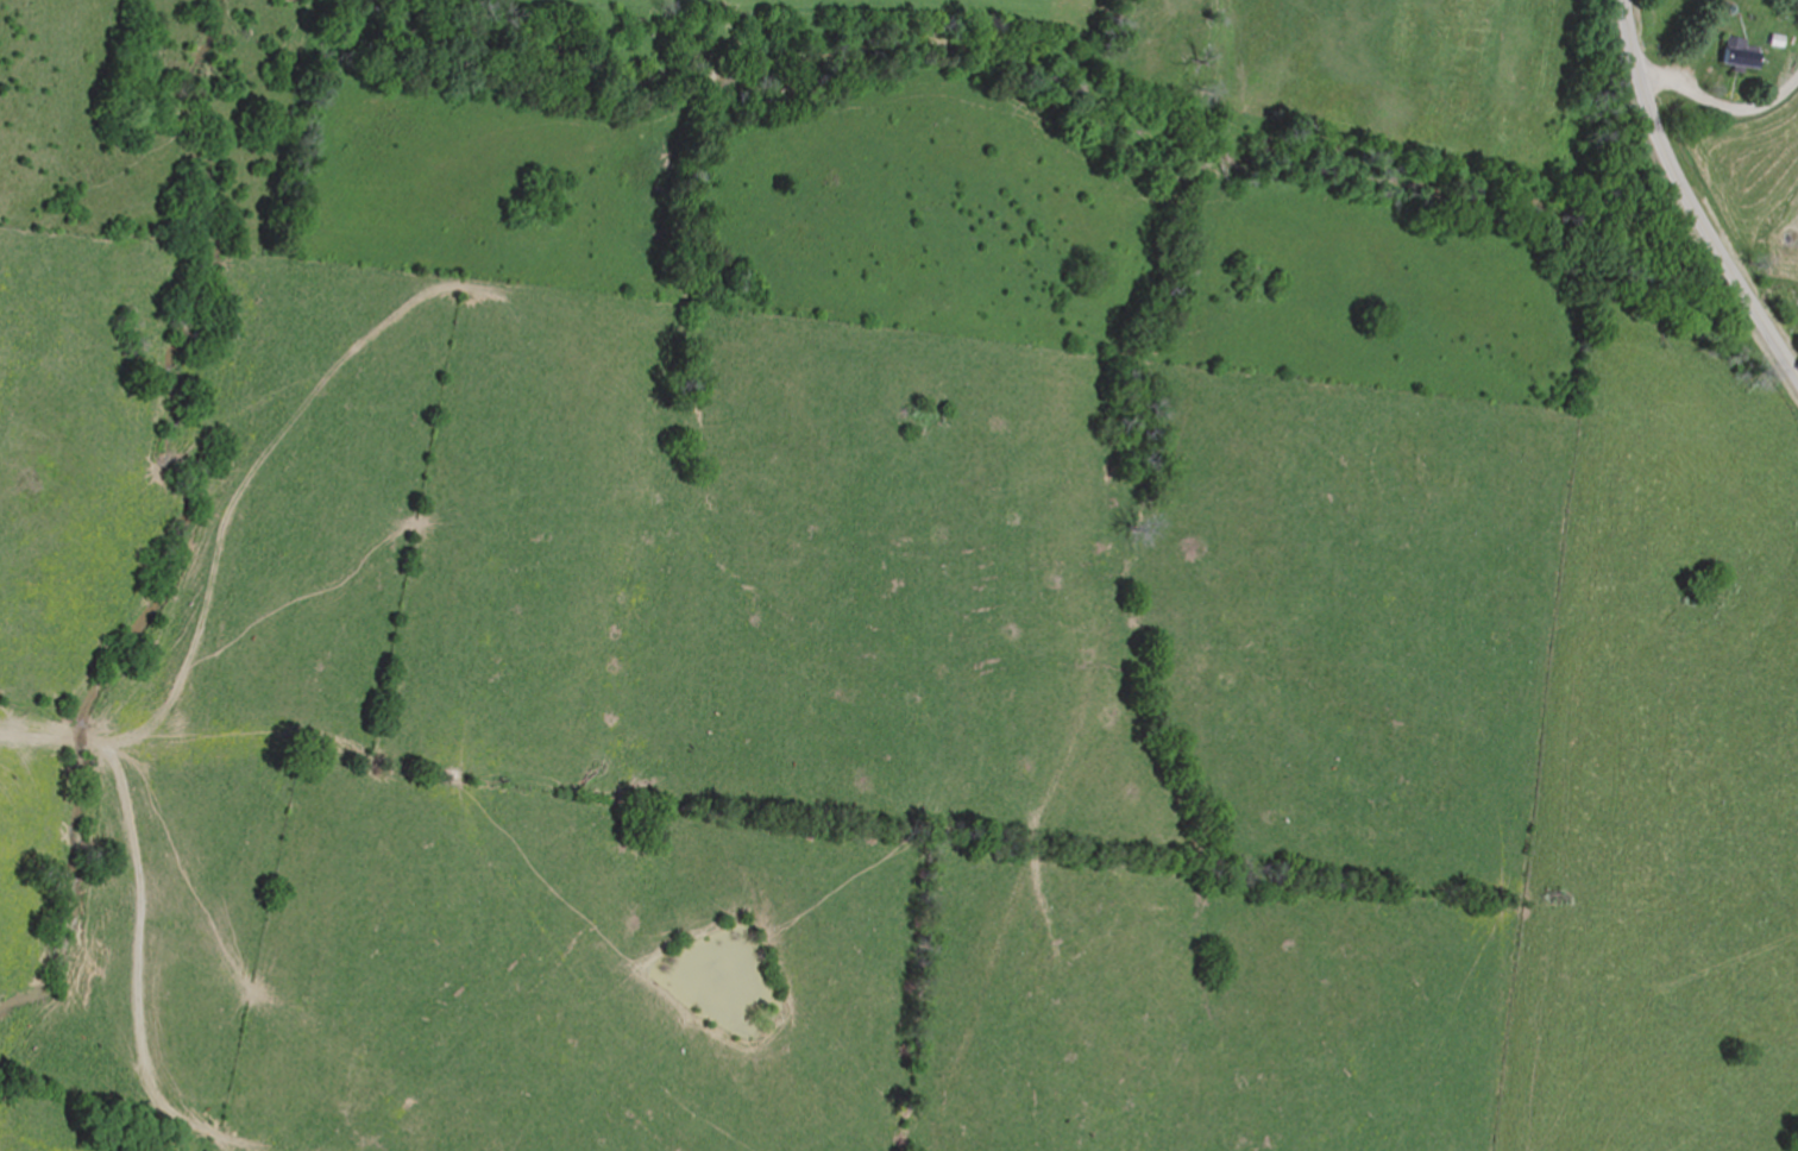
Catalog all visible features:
building: (1736, 54)
road: (1689, 197)

